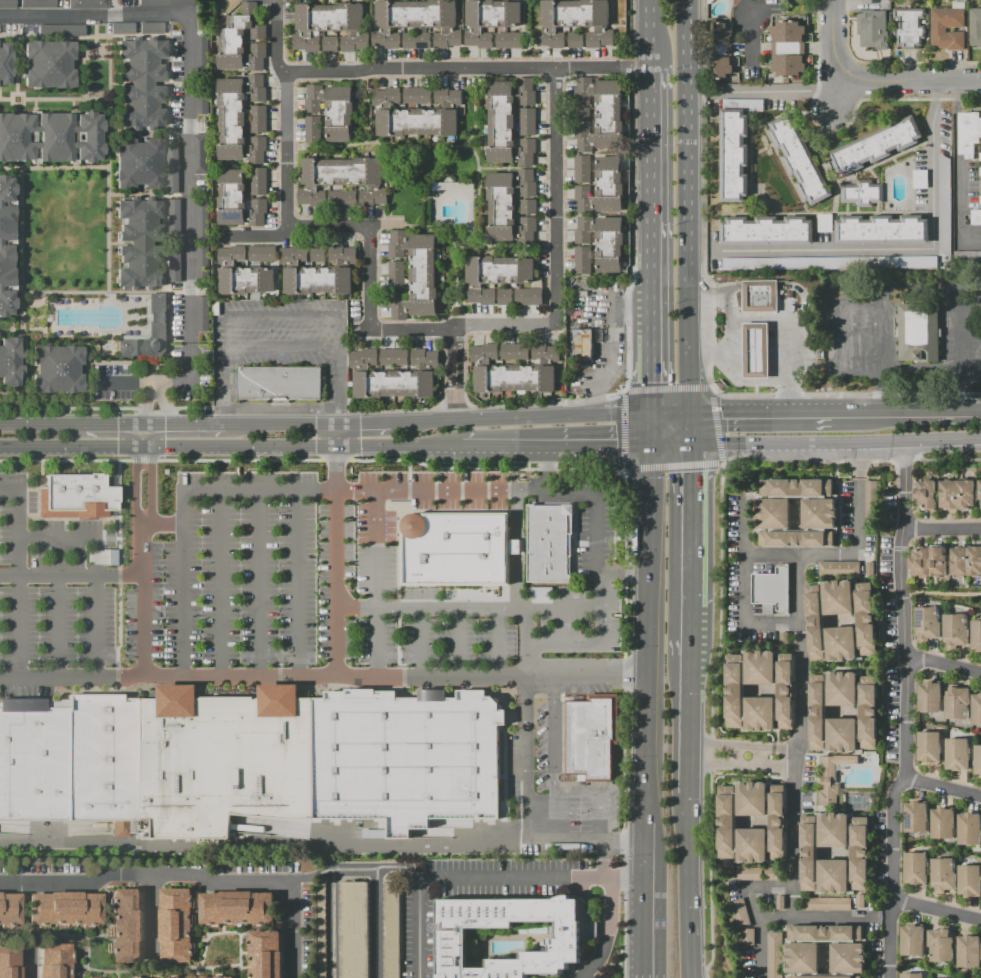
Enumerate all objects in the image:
building: (165, 2)
building: (86, 3)
building: (7, 4)
building: (37, 4)
building: (489, 19)
building: (416, 21)
building: (574, 22)
building: (873, 24)
building: (330, 25)
building: (150, 27)
building: (121, 28)
building: (909, 28)
building: (946, 28)
building: (975, 28)
building: (60, 30)
road: (754, 32)
road: (648, 35)
building: (509, 40)
building: (241, 41)
building: (416, 41)
building: (575, 41)
building: (329, 43)
road: (95, 44)
road: (835, 45)
building: (788, 48)
building: (723, 50)
building: (201, 57)
building: (5, 63)
building: (48, 64)
road: (16, 65)
road: (601, 70)
road: (381, 71)
building: (141, 83)
road: (910, 87)
road: (781, 91)
building: (416, 95)
road: (95, 97)
road: (21, 98)
road: (5, 99)
building: (202, 102)
building: (333, 110)
building: (416, 114)
building: (581, 115)
building: (599, 115)
building: (238, 119)
building: (258, 119)
road: (187, 121)
building: (508, 121)
building: (527, 121)
building: (312, 129)
road: (72, 132)
building: (968, 132)
road: (34, 133)
road: (136, 133)
road: (108, 135)
building: (50, 137)
building: (876, 145)
building: (735, 147)
road: (164, 151)
building: (200, 153)
road: (285, 153)
building: (980, 157)
building: (799, 158)
building: (138, 162)
road: (10, 168)
building: (172, 169)
building: (582, 169)
building: (980, 172)
building: (341, 179)
building: (258, 181)
building: (923, 181)
building: (602, 188)
building: (862, 192)
road: (136, 194)
road: (633, 195)
road: (554, 196)
building: (342, 198)
building: (238, 200)
building: (980, 200)
road: (648, 202)
building: (509, 206)
building: (527, 206)
road: (686, 206)
building: (944, 206)
road: (959, 212)
building: (174, 216)
building: (975, 217)
building: (202, 220)
building: (825, 223)
road: (20, 229)
road: (314, 229)
building: (767, 231)
building: (885, 231)
road: (10, 241)
building: (602, 241)
building: (139, 243)
building: (6, 246)
road: (904, 251)
building: (262, 253)
building: (317, 253)
building: (967, 256)
building: (583, 260)
building: (202, 262)
building: (830, 263)
building: (174, 264)
building: (317, 271)
building: (242, 274)
building: (396, 275)
building: (415, 275)
building: (495, 275)
road: (369, 276)
road: (916, 282)
building: (759, 285)
road: (759, 286)
road: (10, 288)
road: (734, 292)
building: (528, 296)
building: (504, 297)
building: (759, 301)
road: (803, 303)
road: (20, 312)
building: (202, 313)
road: (283, 319)
road: (728, 319)
road: (461, 326)
building: (148, 332)
building: (917, 333)
road: (735, 337)
road: (755, 337)
road: (775, 337)
road: (783, 337)
road: (608, 343)
road: (283, 345)
building: (582, 345)
building: (755, 350)
gas station: (755, 350)
building: (514, 351)
road: (701, 355)
parking lot: (185, 357)
building: (393, 357)
building: (150, 360)
building: (9, 361)
road: (24, 361)
road: (755, 367)
road: (775, 367)
road: (139, 368)
road: (166, 368)
building: (56, 369)
building: (513, 370)
road: (921, 372)
road: (649, 373)
road: (454, 374)
road: (228, 375)
building: (392, 375)
road: (338, 376)
road: (167, 380)
parking lot: (113, 381)
road: (139, 381)
road: (125, 382)
building: (279, 383)
road: (711, 387)
road: (666, 389)
road: (622, 390)
road: (146, 405)
road: (453, 405)
road: (512, 405)
road: (163, 406)
road: (219, 406)
road: (283, 406)
road: (78, 407)
road: (179, 407)
road: (344, 409)
road: (426, 409)
road: (979, 409)
road: (914, 410)
road: (153, 411)
road: (769, 411)
road: (668, 412)
traffic signals: (688, 412)
traffic signals: (649, 413)
road: (226, 416)
road: (338, 417)
road: (521, 417)
road: (366, 425)
road: (716, 425)
road: (39, 427)
road: (108, 427)
road: (144, 427)
road: (164, 427)
road: (201, 427)
road: (281, 427)
road: (624, 429)
road: (689, 429)
road: (649, 430)
road: (112, 435)
road: (183, 435)
road: (338, 437)
road: (835, 443)
road: (382, 447)
road: (598, 447)
traffic signals: (649, 447)
road: (669, 447)
traffic signals: (690, 447)
road: (240, 448)
road: (444, 448)
road: (505, 448)
road: (71, 449)
road: (143, 455)
road: (238, 459)
road: (334, 459)
road: (64, 460)
road: (142, 460)
road: (672, 465)
road: (483, 466)
road: (622, 471)
building: (748, 485)
road: (133, 487)
road: (151, 488)
road: (429, 489)
building: (980, 489)
road: (9, 490)
building: (926, 494)
building: (956, 494)
building: (82, 495)
building: (871, 500)
road: (118, 513)
building: (773, 514)
road: (74, 517)
road: (162, 524)
road: (690, 526)
road: (942, 527)
road: (619, 537)
road: (593, 542)
building: (549, 543)
road: (572, 543)
building: (454, 547)
road: (516, 548)
road: (857, 556)
road: (336, 561)
building: (966, 561)
building: (928, 562)
road: (624, 565)
parking lot: (585, 566)
road: (95, 568)
building: (870, 568)
building: (839, 569)
road: (622, 571)
road: (71, 575)
road: (118, 575)
parking lot: (239, 579)
road: (18, 582)
road: (258, 582)
road: (298, 582)
road: (375, 582)
road: (221, 583)
road: (744, 586)
building: (772, 590)
road: (941, 593)
road: (143, 596)
road: (182, 600)
road: (719, 600)
road: (558, 606)
road: (462, 607)
building: (817, 622)
building: (926, 623)
road: (56, 625)
road: (118, 625)
building: (954, 630)
road: (689, 632)
road: (645, 634)
building: (976, 635)
building: (784, 639)
road: (419, 641)
road: (458, 641)
road: (498, 642)
road: (582, 642)
road: (943, 664)
road: (623, 673)
road: (322, 676)
road: (116, 677)
building: (735, 691)
building: (929, 697)
building: (956, 702)
building: (976, 709)
building: (867, 711)
road: (904, 711)
road: (688, 725)
road: (798, 737)
building: (594, 738)
road: (723, 745)
building: (928, 747)
road: (777, 748)
road: (710, 753)
road: (736, 754)
building: (956, 754)
road: (759, 755)
road: (524, 756)
road: (553, 756)
building: (251, 758)
building: (977, 760)
road: (723, 762)
road: (776, 765)
building: (832, 777)
parking lot: (552, 787)
road: (941, 789)
road: (598, 793)
building: (915, 817)
building: (728, 822)
building: (942, 823)
building: (969, 828)
road: (621, 833)
road: (321, 843)
road: (641, 844)
building: (811, 853)
road: (401, 864)
building: (915, 868)
building: (749, 873)
building: (773, 873)
road: (190, 874)
road: (640, 874)
road: (708, 874)
road: (352, 875)
building: (942, 875)
road: (307, 876)
road: (605, 876)
building: (968, 880)
road: (519, 881)
road: (686, 884)
road: (757, 886)
building: (860, 901)
building: (780, 902)
building: (827, 904)
building: (7, 907)
building: (63, 908)
building: (237, 908)
road: (936, 908)
building: (740, 913)
road: (154, 918)
road: (784, 918)
building: (176, 925)
building: (125, 926)
building: (320, 930)
building: (354, 930)
building: (390, 930)
road: (640, 930)
building: (452, 934)
building: (747, 937)
building: (912, 939)
building: (941, 944)
building: (980, 945)
building: (847, 949)
building: (968, 951)
building: (266, 954)
building: (773, 955)
road: (27, 961)
building: (53, 961)
building: (8, 962)
building: (912, 975)
building: (224, 976)
building: (176, 977)

